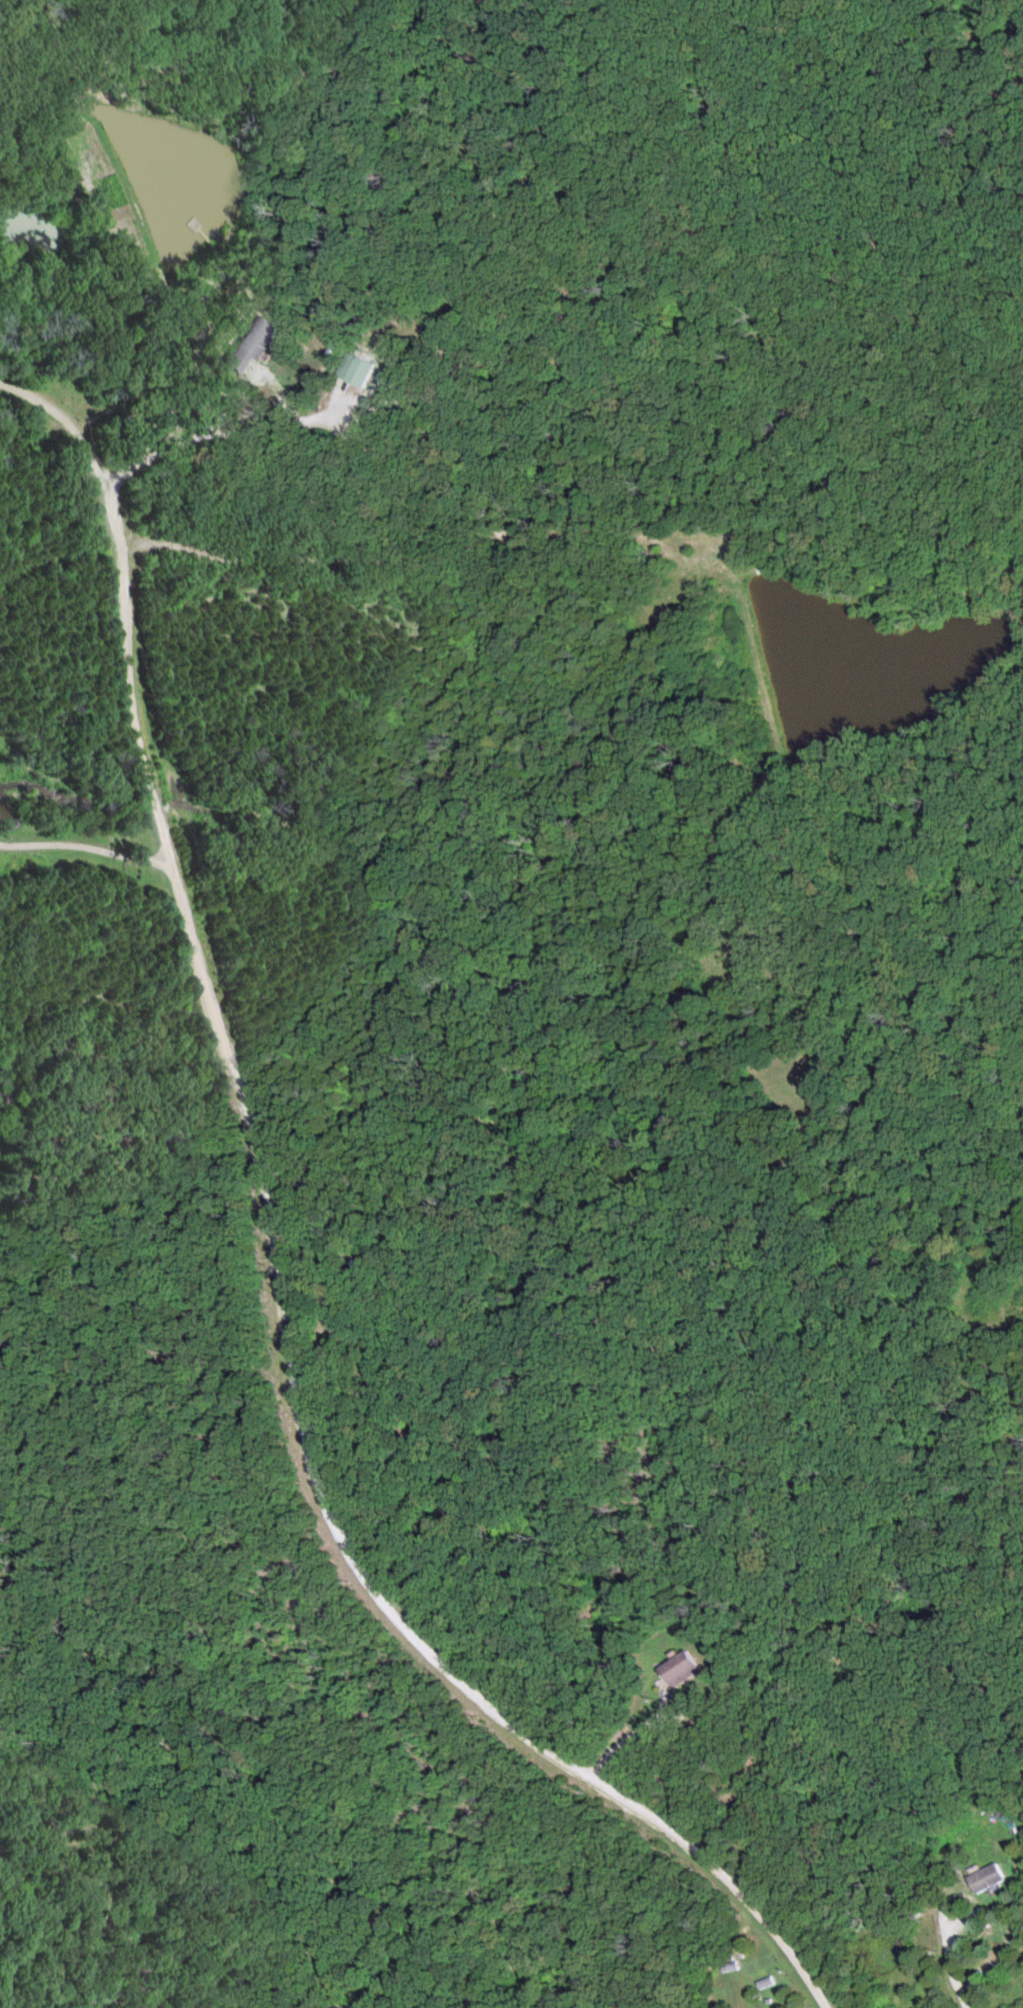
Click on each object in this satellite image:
building: (253, 346)
building: (355, 370)
road: (251, 430)
road: (275, 1272)
building: (680, 1670)
building: (986, 1879)

